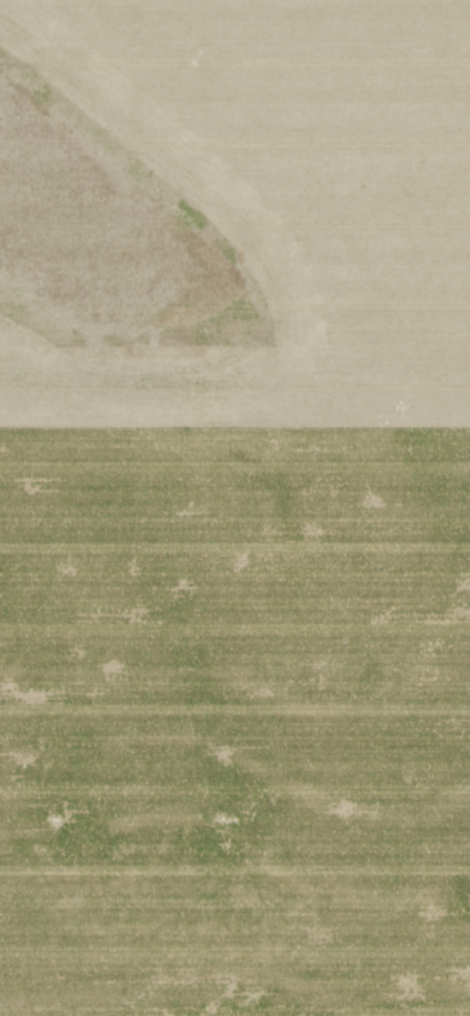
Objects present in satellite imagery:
crop: (235, 508)

